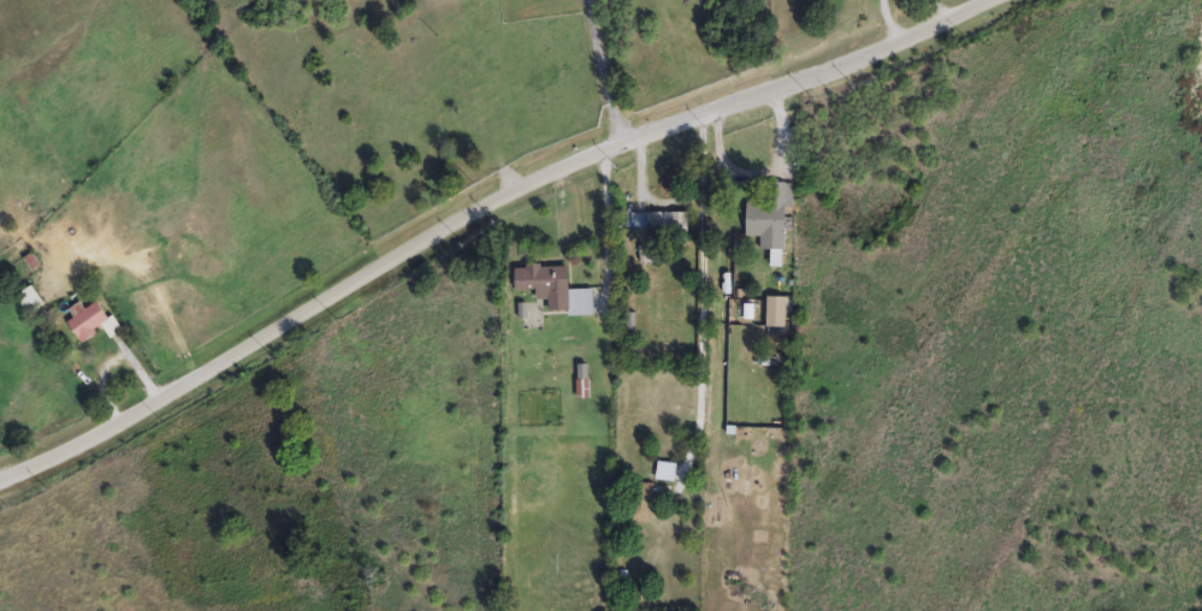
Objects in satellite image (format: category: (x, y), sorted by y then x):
road: (604, 73)
building: (771, 215)
building: (640, 221)
road: (478, 229)
building: (556, 290)
road: (703, 297)
building: (778, 313)
building: (93, 322)
building: (584, 382)
building: (669, 473)
building: (645, 503)

